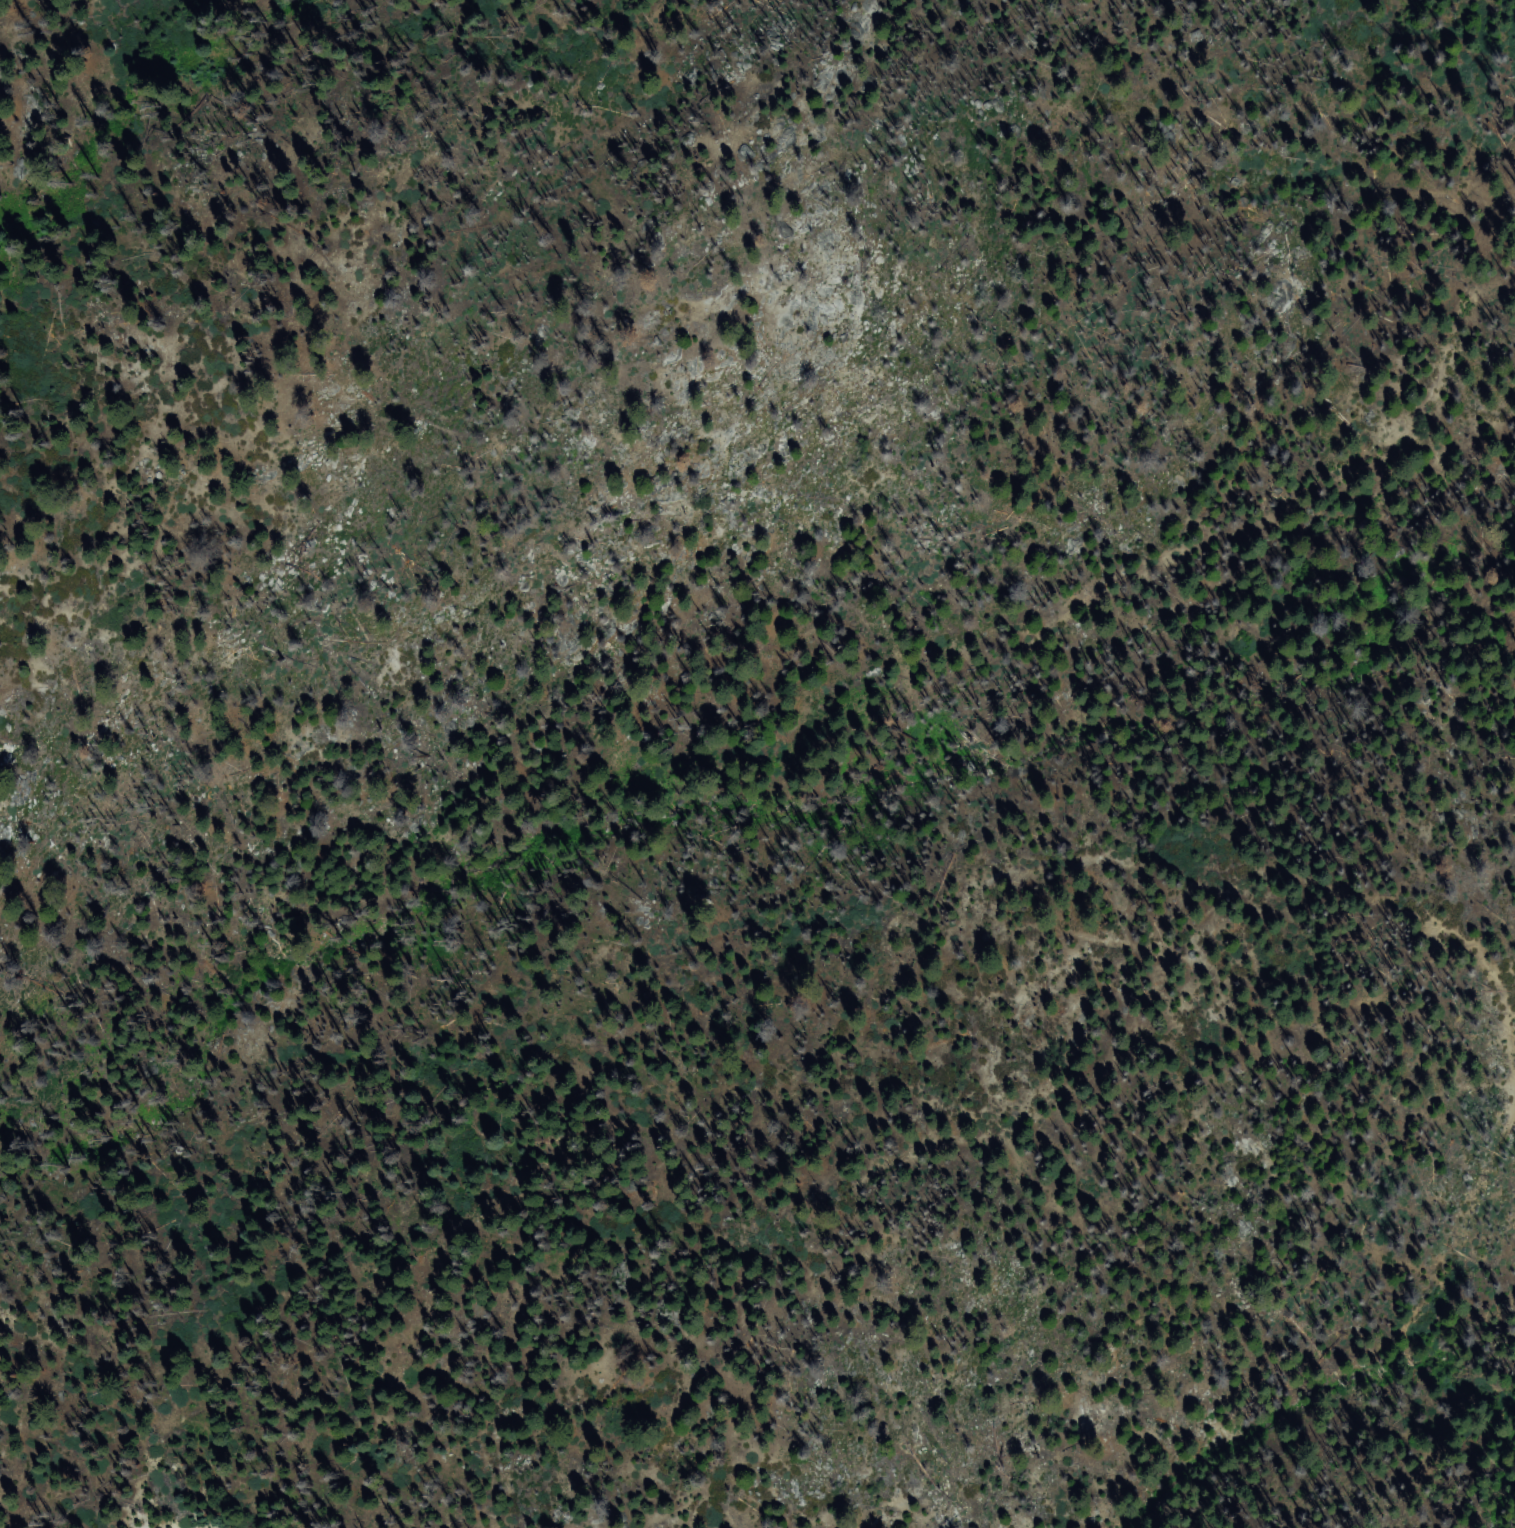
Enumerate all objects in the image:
road: (815, 899)
quarry: (192, 1518)

